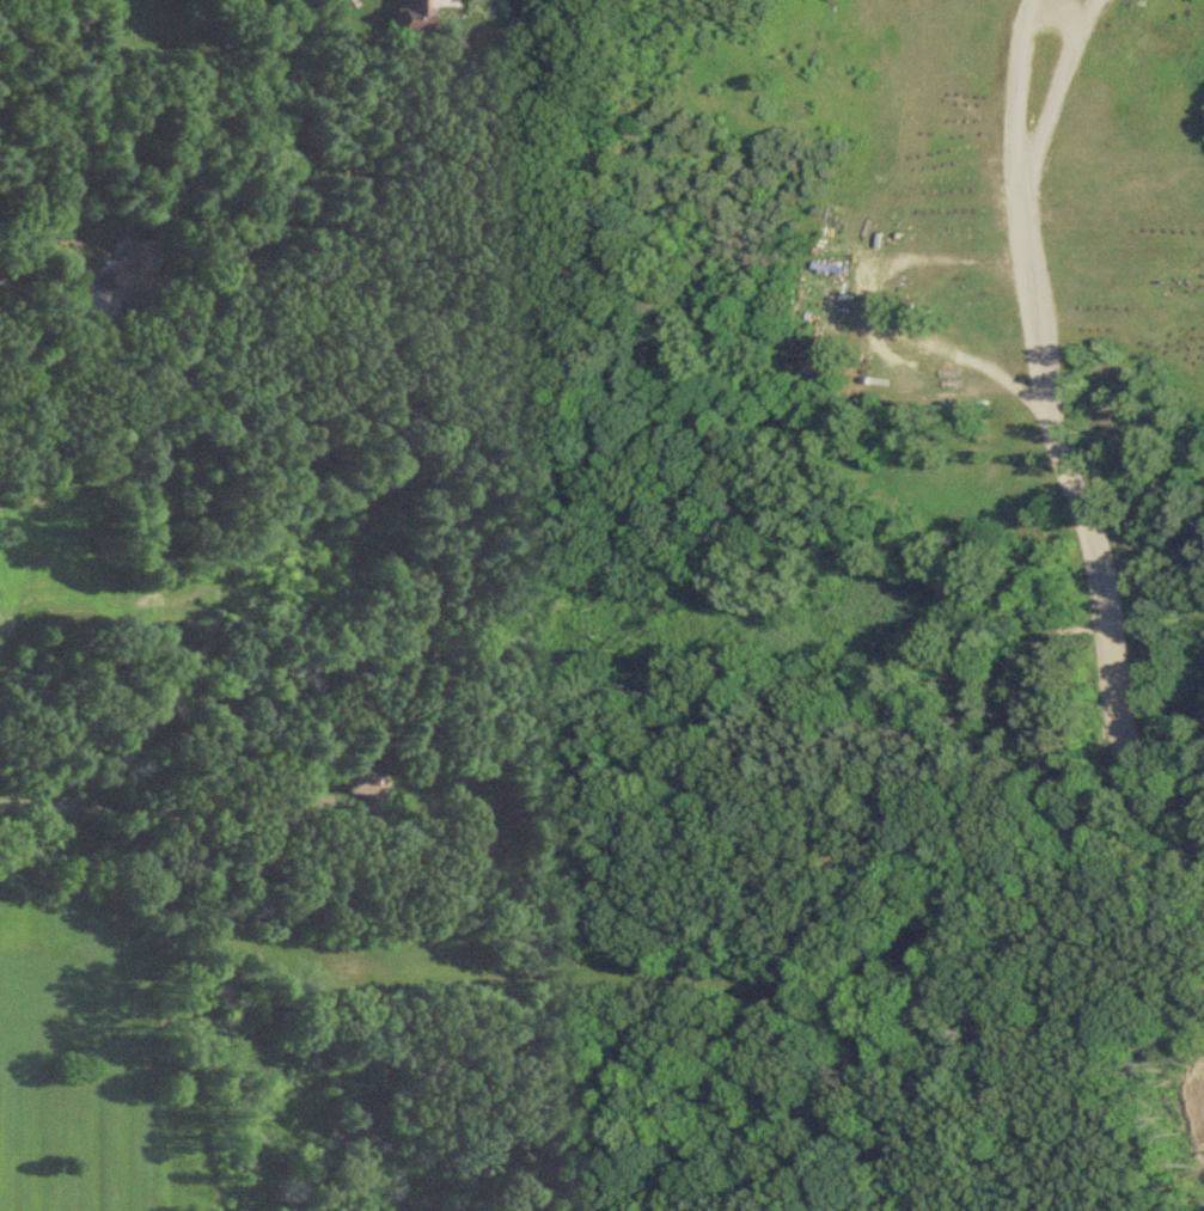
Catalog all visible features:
building: (409, 17)
road: (1089, 179)
building: (132, 274)
road: (36, 292)
building: (359, 784)
road: (146, 814)

